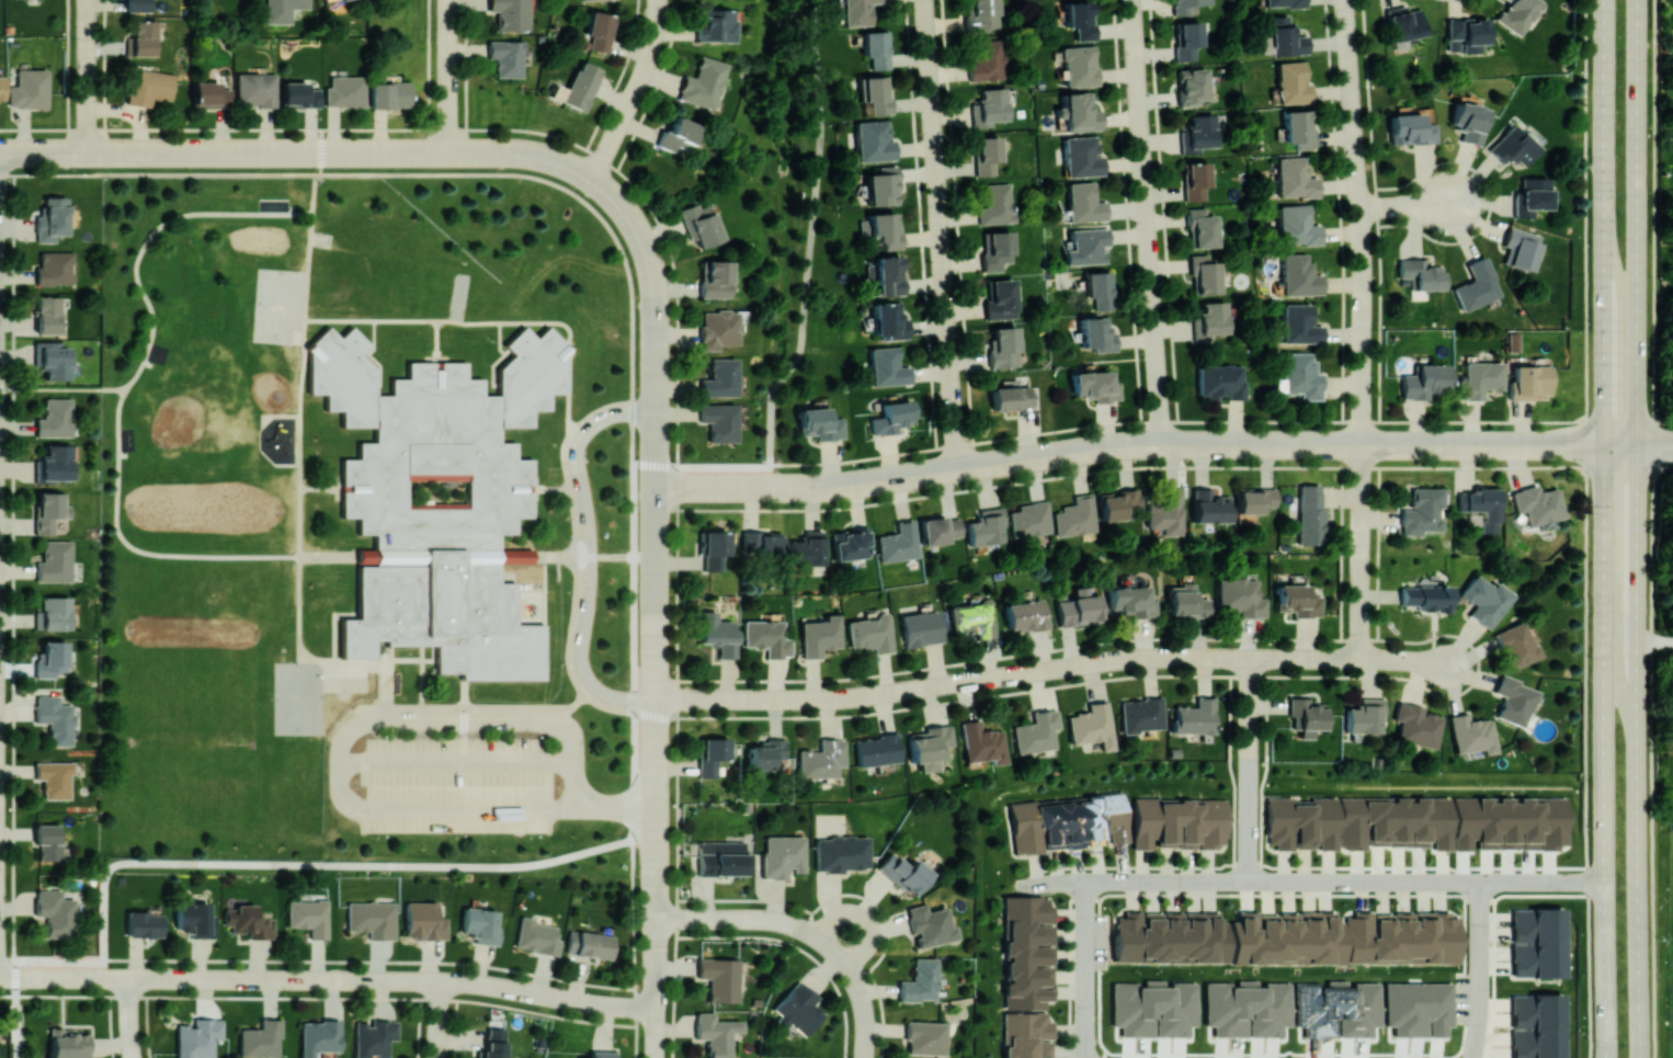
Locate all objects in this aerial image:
building: (329, 0)
building: (1284, 3)
building: (138, 4)
building: (1187, 5)
building: (282, 10)
building: (857, 11)
road: (929, 11)
building: (510, 14)
building: (1517, 14)
building: (983, 15)
road: (88, 18)
building: (1079, 19)
building: (1403, 24)
building: (716, 25)
building: (599, 31)
road: (930, 32)
building: (1466, 34)
building: (1282, 37)
building: (143, 38)
building: (1187, 39)
road: (88, 48)
building: (875, 48)
building: (505, 57)
building: (988, 60)
building: (1079, 65)
road: (449, 76)
building: (703, 82)
building: (1293, 82)
building: (581, 84)
building: (1192, 86)
building: (150, 88)
building: (0, 89)
building: (29, 89)
building: (255, 89)
road: (1637, 89)
building: (345, 91)
road: (637, 93)
building: (209, 94)
building: (298, 94)
building: (388, 94)
building: (875, 94)
road: (88, 106)
building: (989, 106)
building: (1078, 111)
building: (1468, 121)
building: (1298, 128)
building: (1410, 129)
building: (1200, 133)
building: (678, 134)
building: (873, 140)
building: (1511, 147)
road: (49, 152)
road: (310, 152)
building: (987, 155)
building: (1081, 157)
road: (560, 161)
building: (1293, 179)
building: (1195, 180)
building: (881, 185)
building: (1529, 196)
building: (1084, 203)
building: (995, 204)
road: (1404, 206)
building: (56, 211)
road: (630, 218)
road: (1147, 221)
road: (1359, 221)
building: (699, 225)
building: (1296, 225)
building: (1200, 228)
building: (885, 229)
road: (811, 236)
building: (1086, 246)
building: (1520, 248)
building: (997, 250)
road: (945, 254)
building: (58, 262)
building: (1205, 272)
building: (1421, 273)
building: (888, 275)
building: (1299, 275)
building: (715, 280)
building: (1476, 285)
building: (1099, 288)
building: (1001, 299)
building: (55, 307)
park: (280, 307)
building: (1210, 319)
building: (888, 320)
building: (1299, 325)
building: (717, 328)
building: (1096, 333)
building: (1004, 348)
building: (58, 350)
building: (887, 366)
road: (657, 375)
building: (1299, 375)
road: (134, 376)
building: (719, 378)
building: (1479, 378)
building: (1220, 380)
building: (1425, 382)
building: (1527, 382)
building: (1094, 386)
road: (62, 388)
building: (1010, 397)
building: (58, 411)
building: (891, 417)
road: (1664, 419)
building: (719, 421)
building: (820, 423)
road: (1247, 444)
road: (1310, 444)
road: (1491, 445)
road: (1641, 445)
road: (1668, 445)
building: (56, 456)
road: (1013, 462)
road: (698, 487)
road: (751, 487)
road: (778, 487)
road: (1361, 498)
building: (440, 499)
building: (1254, 500)
building: (1117, 503)
building: (1538, 504)
building: (52, 505)
building: (1210, 505)
park: (201, 507)
building: (1483, 507)
building: (1422, 511)
building: (1168, 512)
building: (1310, 514)
building: (1077, 515)
building: (1031, 519)
building: (986, 526)
road: (1586, 528)
road: (1604, 528)
road: (1651, 528)
building: (938, 530)
building: (898, 542)
building: (850, 543)
building: (762, 546)
building: (807, 548)
building: (714, 549)
road: (589, 554)
building: (59, 555)
building: (367, 555)
building: (517, 555)
building: (1240, 596)
building: (1425, 596)
building: (1297, 600)
building: (1484, 600)
building: (1131, 601)
building: (1186, 601)
road: (1359, 604)
building: (58, 606)
building: (1078, 606)
building: (1025, 615)
building: (974, 617)
road: (1638, 618)
building: (920, 627)
building: (870, 632)
building: (717, 633)
building: (819, 635)
building: (766, 637)
road: (1655, 641)
road: (657, 644)
building: (1514, 645)
building: (56, 653)
road: (1375, 658)
road: (1420, 661)
road: (1008, 674)
road: (385, 679)
park: (203, 697)
park: (299, 697)
building: (1513, 701)
building: (61, 708)
road: (1251, 709)
building: (1140, 714)
building: (1306, 715)
building: (1364, 715)
road: (457, 717)
building: (1193, 717)
building: (1415, 725)
building: (1091, 726)
building: (1035, 731)
building: (1470, 733)
building: (981, 742)
building: (927, 746)
building: (876, 749)
building: (712, 754)
building: (764, 754)
building: (820, 759)
road: (352, 762)
road: (470, 762)
building: (62, 770)
road: (574, 784)
parking lot: (457, 785)
road: (341, 792)
road: (615, 806)
road: (565, 808)
road: (459, 810)
road: (1250, 821)
building: (1069, 822)
building: (1179, 822)
building: (1301, 822)
building: (1454, 822)
building: (56, 834)
road: (657, 840)
building: (842, 853)
building: (782, 855)
building: (720, 857)
road: (491, 866)
building: (903, 873)
road: (1310, 881)
road: (657, 898)
building: (62, 901)
building: (309, 917)
road: (864, 918)
building: (194, 919)
building: (372, 919)
road: (706, 919)
road: (775, 919)
building: (249, 921)
building: (423, 921)
building: (144, 924)
building: (480, 924)
building: (930, 924)
road: (811, 933)
building: (536, 936)
building: (1229, 936)
building: (1400, 936)
building: (1537, 942)
building: (589, 944)
building: (1027, 952)
road: (1086, 969)
road: (1481, 969)
road: (4, 977)
road: (69, 977)
building: (719, 978)
road: (394, 979)
building: (920, 981)
road: (657, 988)
road: (130, 993)
road: (861, 996)
building: (1336, 1002)
building: (1154, 1008)
building: (1247, 1008)
building: (798, 1009)
road: (439, 1019)
building: (1536, 1025)
road: (130, 1033)
building: (715, 1033)
building: (1026, 1035)
building: (318, 1036)
building: (198, 1037)
building: (374, 1037)
building: (925, 1037)
building: (260, 1039)
building: (68, 1044)
building: (493, 1044)
building: (601, 1055)

